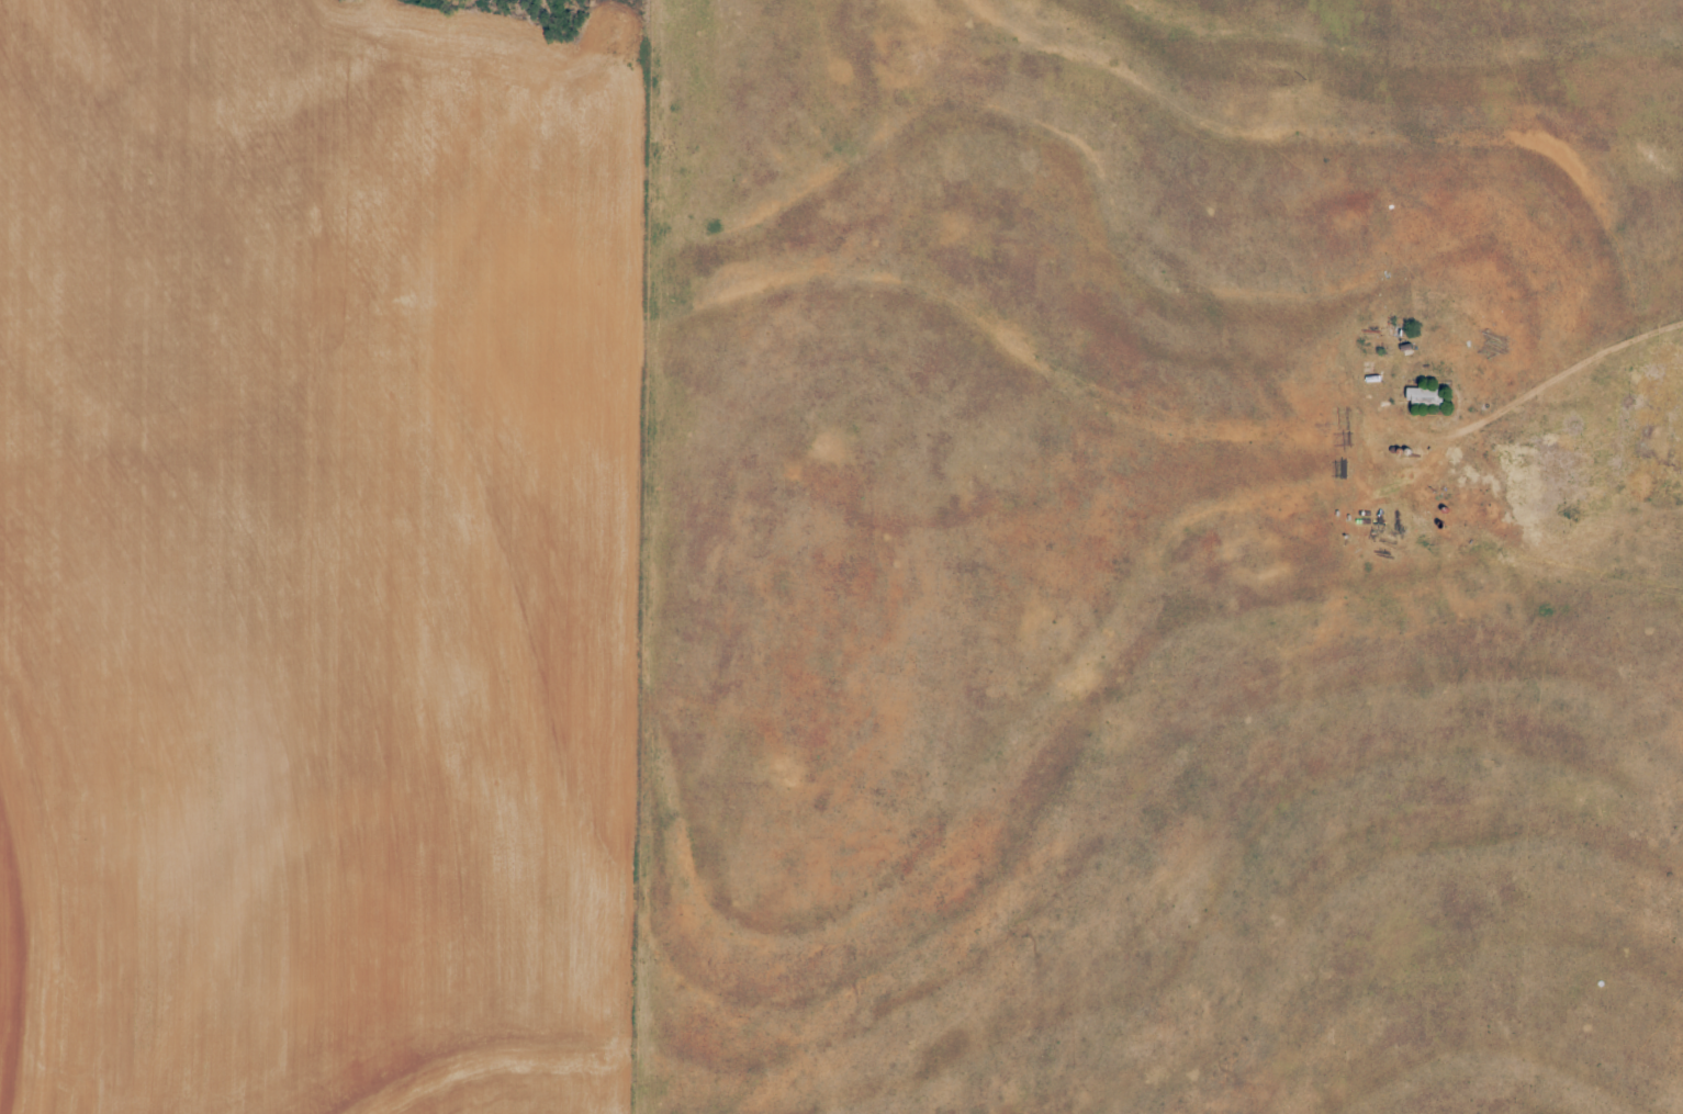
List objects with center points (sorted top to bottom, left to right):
road: (1591, 331)

